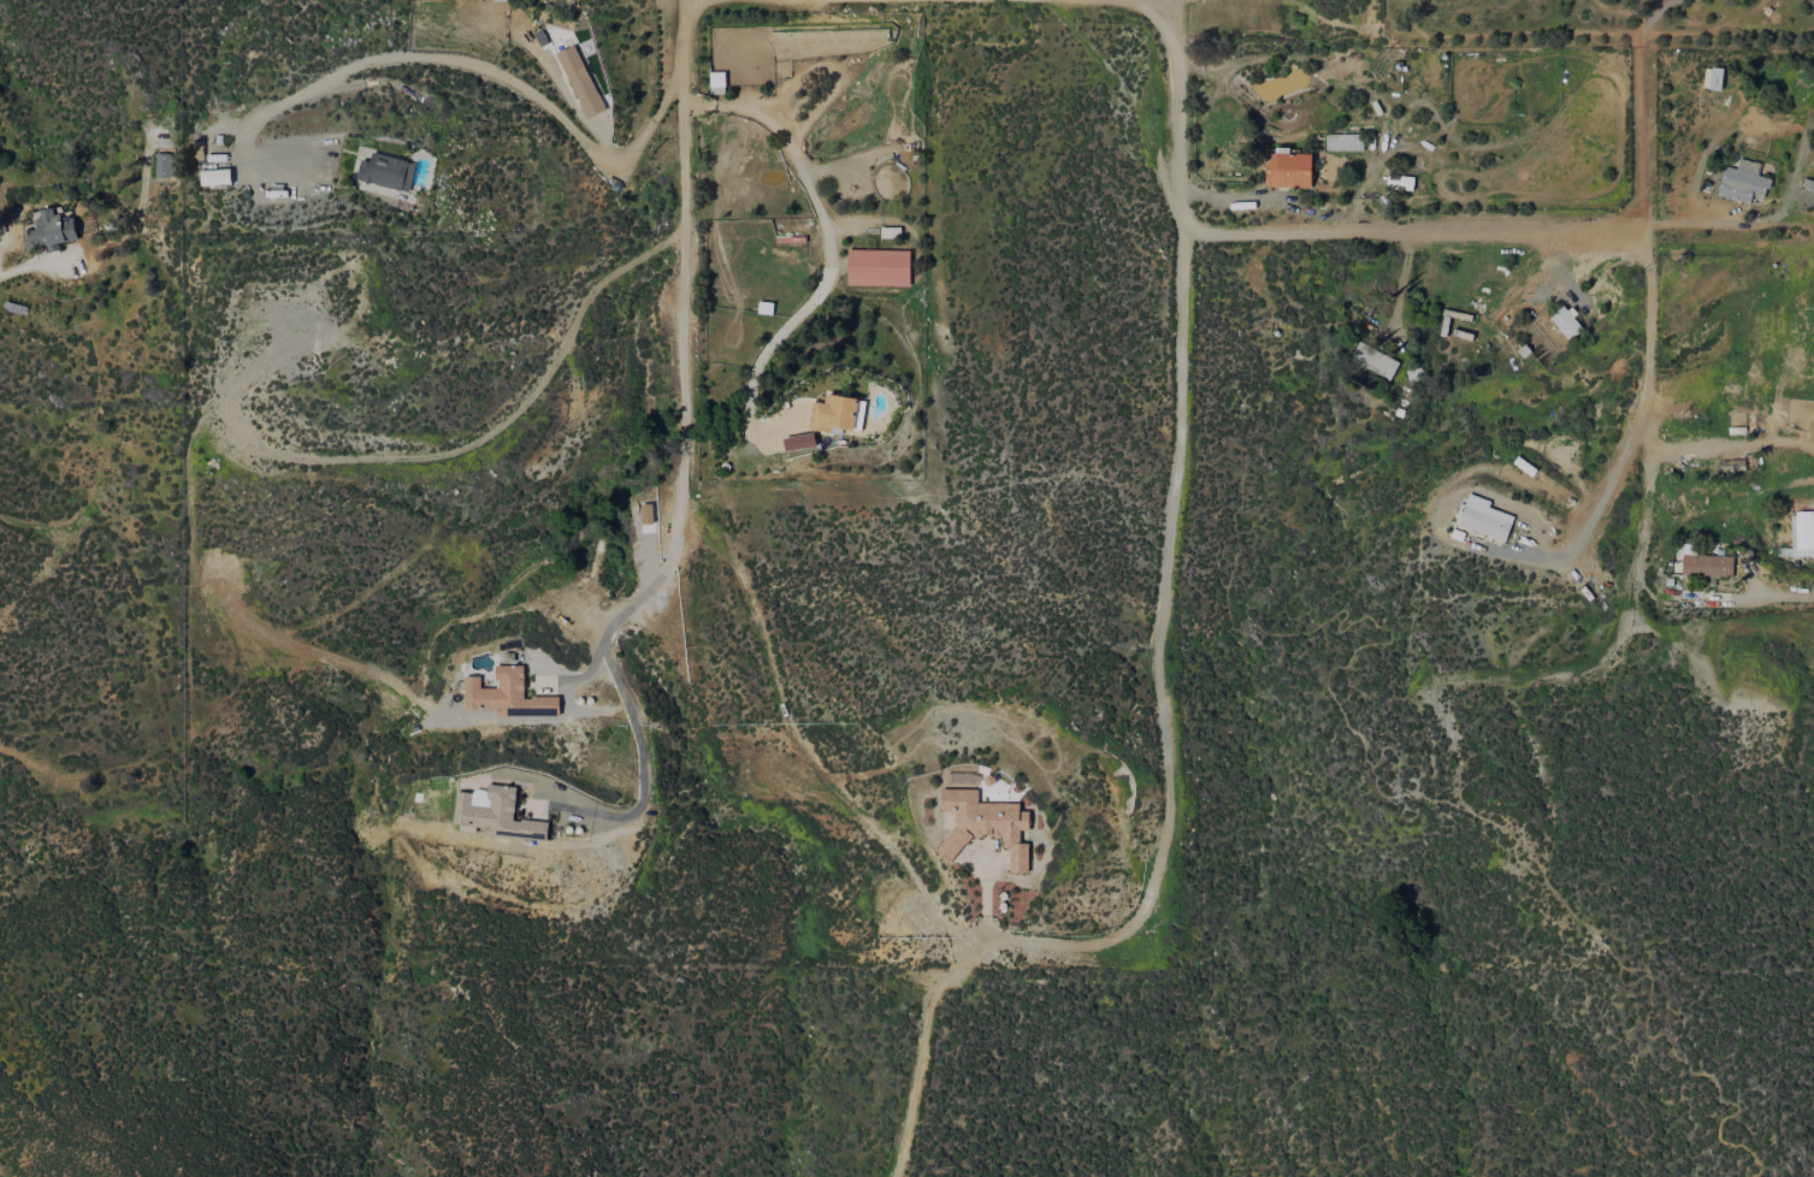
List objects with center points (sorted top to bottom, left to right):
building: (1813, 2)
road: (461, 60)
building: (1712, 78)
building: (579, 81)
road: (1642, 108)
building: (1343, 142)
building: (164, 165)
building: (1287, 170)
building: (386, 171)
building: (214, 177)
building: (1399, 182)
building: (1742, 182)
road: (1715, 223)
building: (51, 230)
road: (1412, 233)
road: (831, 236)
road: (685, 250)
road: (18, 265)
building: (878, 267)
road: (1400, 280)
building: (1565, 323)
road: (1644, 337)
building: (1373, 360)
building: (835, 413)
building: (798, 442)
road: (1716, 444)
road: (1177, 459)
road: (1596, 493)
building: (1483, 517)
building: (1800, 536)
building: (1706, 566)
road: (1654, 595)
road: (636, 599)
building: (507, 694)
road: (642, 762)
building: (494, 814)
building: (985, 823)
road: (986, 898)
road: (949, 972)

